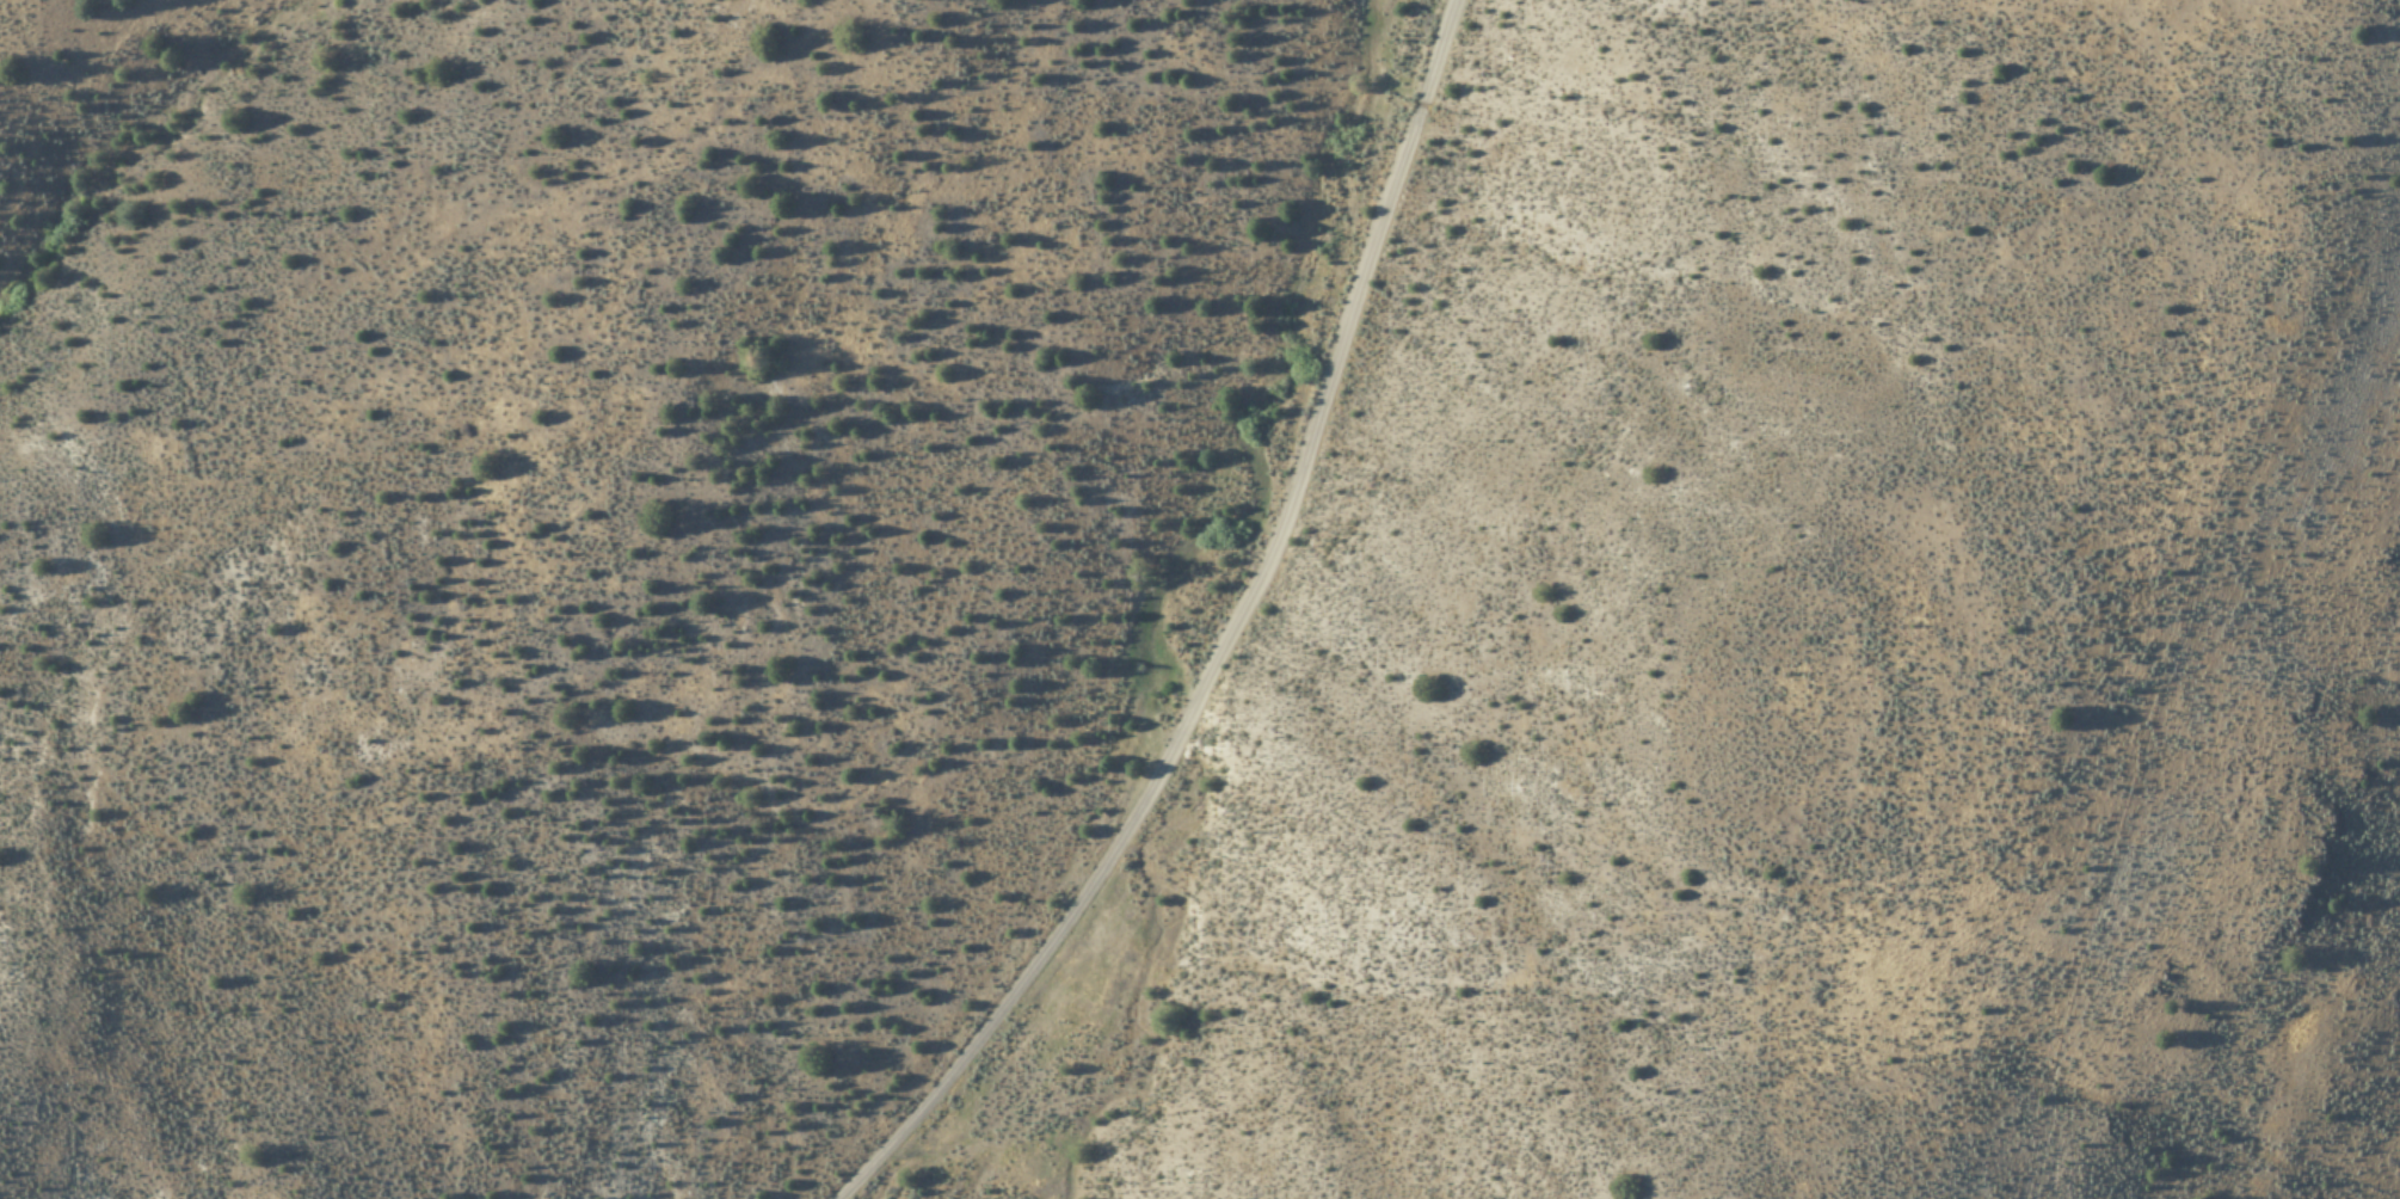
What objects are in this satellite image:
road: (1226, 653)

